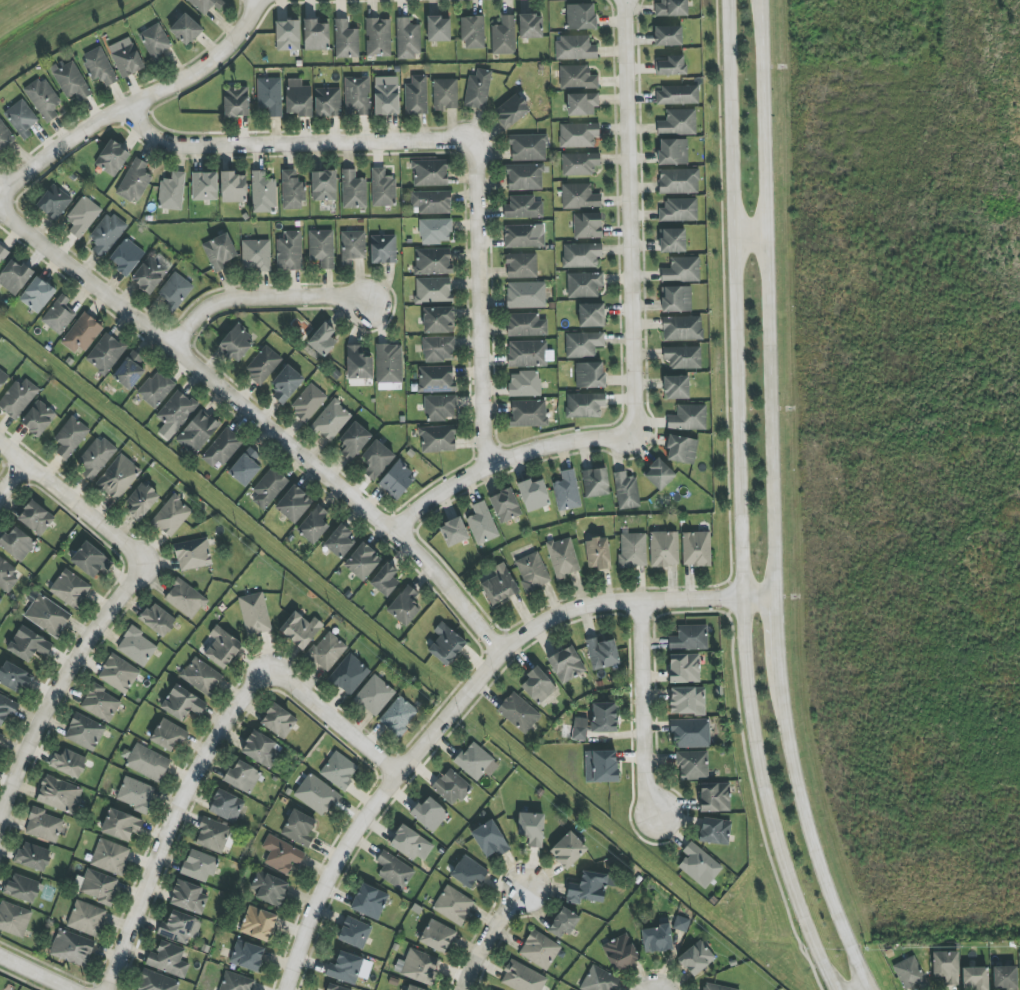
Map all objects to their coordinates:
road: (268, 2)
building: (206, 5)
building: (671, 8)
building: (580, 16)
building: (531, 26)
building: (185, 29)
building: (439, 29)
building: (473, 32)
building: (288, 35)
building: (316, 35)
building: (503, 36)
building: (668, 36)
building: (378, 37)
building: (408, 38)
building: (346, 40)
building: (156, 42)
building: (575, 48)
building: (127, 60)
building: (99, 66)
building: (672, 66)
building: (577, 77)
building: (70, 80)
building: (478, 89)
building: (445, 94)
building: (386, 95)
building: (416, 95)
building: (676, 95)
building: (269, 96)
building: (357, 96)
building: (298, 98)
building: (43, 99)
building: (236, 102)
building: (327, 102)
building: (582, 103)
building: (511, 111)
road: (140, 112)
building: (21, 118)
building: (678, 122)
building: (578, 135)
building: (5, 136)
building: (528, 147)
building: (672, 152)
road: (299, 153)
building: (112, 158)
building: (579, 163)
building: (430, 173)
building: (524, 177)
building: (135, 181)
building: (678, 181)
building: (324, 185)
building: (204, 186)
building: (233, 187)
building: (382, 188)
building: (353, 190)
building: (292, 191)
building: (172, 192)
building: (263, 192)
building: (579, 196)
building: (54, 202)
building: (431, 202)
building: (523, 207)
building: (679, 210)
building: (83, 216)
road: (635, 223)
building: (587, 225)
building: (435, 231)
building: (106, 234)
building: (523, 236)
building: (672, 240)
building: (352, 246)
building: (322, 248)
building: (383, 249)
building: (289, 251)
building: (219, 252)
building: (3, 254)
building: (255, 255)
building: (581, 255)
building: (126, 257)
building: (432, 261)
building: (521, 265)
building: (682, 270)
building: (152, 272)
building: (15, 276)
building: (584, 284)
building: (433, 290)
building: (175, 291)
building: (37, 294)
building: (526, 295)
building: (676, 299)
road: (768, 299)
road: (266, 306)
road: (485, 313)
building: (59, 315)
building: (591, 315)
building: (438, 320)
building: (526, 325)
building: (682, 328)
building: (81, 334)
building: (322, 340)
building: (236, 343)
building: (583, 344)
building: (438, 349)
building: (105, 353)
building: (527, 354)
building: (683, 357)
building: (358, 363)
building: (389, 363)
building: (263, 365)
building: (129, 370)
building: (589, 375)
building: (3, 378)
building: (436, 379)
building: (286, 384)
building: (524, 384)
building: (676, 387)
building: (156, 389)
building: (18, 398)
building: (308, 402)
building: (584, 405)
building: (440, 407)
building: (175, 414)
building: (528, 414)
building: (38, 418)
building: (688, 418)
building: (331, 420)
road: (262, 424)
building: (197, 432)
building: (70, 437)
building: (438, 438)
building: (354, 440)
building: (222, 448)
building: (681, 449)
building: (96, 457)
building: (376, 460)
building: (245, 467)
road: (511, 468)
building: (659, 474)
building: (119, 477)
building: (397, 479)
road: (14, 483)
building: (595, 483)
building: (269, 488)
building: (567, 491)
building: (626, 491)
building: (533, 495)
building: (142, 501)
road: (740, 502)
building: (294, 504)
building: (505, 505)
road: (75, 507)
building: (171, 516)
building: (36, 517)
building: (314, 524)
building: (482, 524)
building: (453, 532)
building: (339, 541)
building: (17, 543)
building: (664, 549)
building: (696, 549)
building: (633, 550)
building: (598, 553)
building: (193, 554)
building: (563, 557)
building: (91, 560)
building: (362, 561)
building: (532, 572)
building: (7, 575)
building: (385, 580)
building: (499, 585)
building: (70, 588)
building: (0, 598)
building: (185, 598)
building: (404, 606)
building: (254, 614)
building: (47, 615)
building: (157, 620)
building: (300, 630)
road: (776, 635)
building: (689, 637)
building: (28, 644)
building: (446, 644)
building: (136, 646)
building: (222, 647)
building: (327, 651)
building: (602, 653)
building: (566, 664)
building: (684, 668)
building: (118, 674)
building: (349, 674)
building: (201, 676)
building: (15, 677)
building: (538, 686)
road: (59, 688)
building: (374, 696)
building: (686, 700)
building: (100, 703)
building: (182, 703)
road: (471, 705)
building: (7, 708)
road: (644, 711)
building: (519, 713)
building: (398, 716)
building: (604, 717)
building: (279, 721)
building: (579, 729)
road: (336, 731)
building: (84, 732)
building: (690, 733)
building: (1, 735)
building: (168, 735)
building: (261, 749)
building: (476, 762)
building: (68, 763)
building: (147, 763)
building: (602, 765)
building: (692, 765)
building: (339, 770)
building: (242, 777)
building: (451, 787)
building: (59, 794)
building: (136, 794)
building: (316, 795)
building: (714, 797)
building: (226, 806)
building: (429, 814)
road: (171, 822)
building: (43, 825)
building: (121, 825)
building: (299, 828)
building: (531, 828)
building: (714, 831)
road: (810, 834)
building: (213, 835)
building: (490, 839)
building: (407, 842)
building: (568, 850)
building: (281, 854)
building: (33, 856)
building: (110, 856)
building: (199, 865)
building: (699, 865)
building: (394, 870)
building: (468, 873)
building: (98, 886)
building: (22, 888)
building: (268, 888)
building: (589, 888)
building: (188, 897)
building: (369, 901)
building: (453, 905)
building: (86, 918)
building: (14, 919)
building: (258, 923)
building: (563, 923)
building: (681, 924)
building: (179, 927)
building: (354, 933)
building: (437, 936)
road: (498, 939)
building: (657, 939)
building: (72, 948)
building: (540, 949)
building: (620, 952)
building: (247, 955)
building: (696, 958)
building: (168, 959)
building: (418, 966)
building: (946, 966)
building: (345, 968)
road: (33, 973)
building: (909, 973)
building: (522, 977)
building: (975, 978)
building: (1005, 978)
building: (600, 980)
building: (157, 982)
building: (236, 982)
building: (335, 987)
building: (714, 987)
building: (413, 988)

